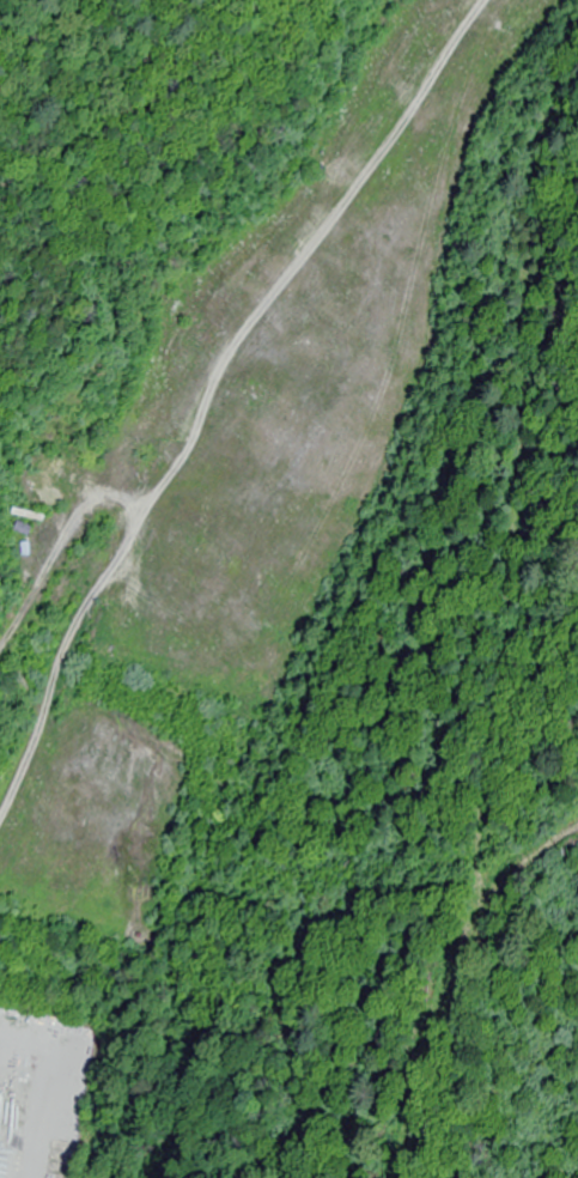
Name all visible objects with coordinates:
building: (456, 95)
building: (48, 1025)

